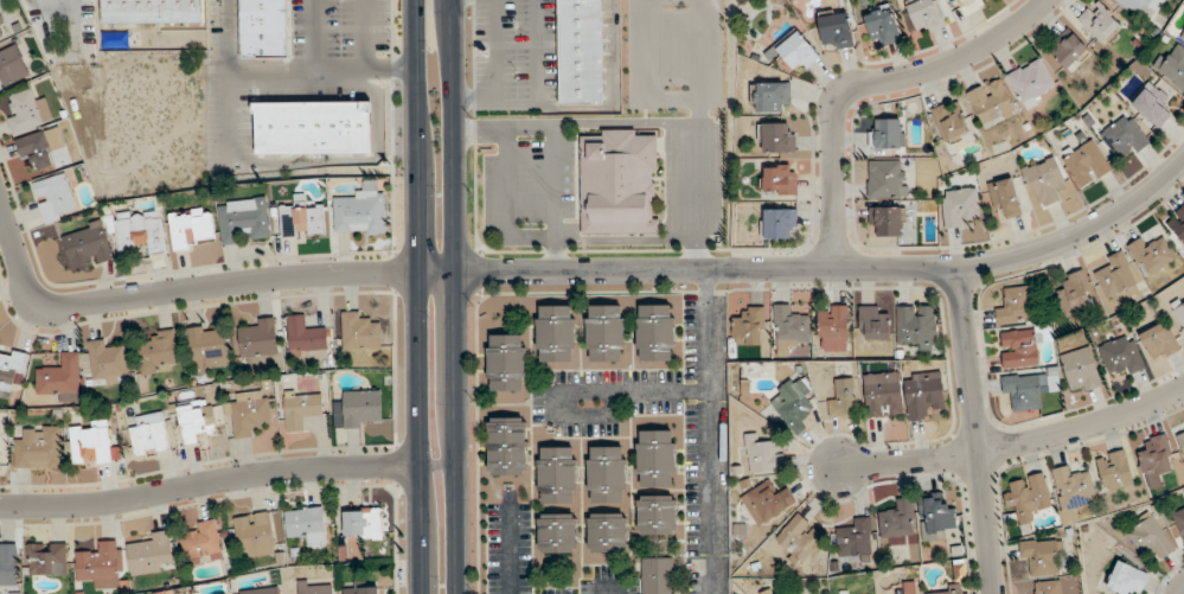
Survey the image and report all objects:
building: (1140, 4)
building: (971, 5)
building: (152, 12)
building: (924, 15)
building: (1099, 21)
building: (882, 27)
building: (2, 28)
building: (264, 28)
building: (836, 31)
building: (1182, 38)
building: (1065, 49)
building: (580, 51)
building: (795, 52)
building: (12, 65)
building: (1172, 65)
road: (328, 68)
building: (1030, 83)
road: (866, 84)
building: (770, 96)
building: (990, 103)
building: (1151, 106)
building: (25, 111)
building: (949, 122)
building: (312, 127)
building: (885, 133)
building: (1125, 136)
building: (777, 138)
building: (41, 148)
building: (1086, 164)
building: (779, 179)
building: (885, 179)
building: (1044, 181)
building: (619, 183)
building: (53, 198)
building: (1005, 198)
building: (959, 206)
building: (360, 211)
building: (244, 219)
building: (302, 221)
building: (885, 221)
building: (779, 223)
building: (1177, 225)
building: (192, 228)
building: (141, 231)
building: (87, 247)
building: (1150, 254)
road: (578, 270)
building: (1115, 275)
building: (1074, 294)
road: (416, 296)
road: (456, 296)
building: (1013, 306)
building: (1178, 314)
building: (872, 324)
building: (915, 325)
building: (748, 327)
building: (832, 328)
building: (789, 330)
building: (359, 331)
building: (654, 332)
building: (555, 333)
building: (604, 333)
building: (305, 336)
building: (256, 338)
building: (1158, 341)
building: (1022, 346)
building: (206, 349)
building: (159, 351)
building: (1120, 357)
building: (105, 362)
building: (506, 363)
building: (11, 370)
building: (1080, 370)
building: (60, 377)
building: (1023, 390)
road: (587, 392)
building: (883, 394)
building: (922, 394)
building: (841, 398)
building: (792, 401)
building: (301, 410)
building: (358, 410)
building: (248, 414)
building: (197, 421)
road: (708, 432)
road: (974, 432)
building: (148, 434)
building: (1179, 436)
building: (90, 441)
road: (1015, 443)
building: (505, 446)
building: (38, 448)
building: (761, 454)
building: (1156, 458)
building: (655, 459)
building: (1114, 471)
building: (556, 474)
building: (606, 474)
road: (207, 481)
building: (1071, 492)
building: (1026, 496)
building: (767, 502)
building: (655, 516)
building: (934, 517)
building: (897, 519)
building: (1179, 520)
building: (363, 523)
building: (306, 525)
building: (606, 532)
building: (557, 534)
building: (254, 535)
building: (1152, 536)
building: (855, 538)
building: (201, 544)
road: (508, 544)
building: (149, 554)
building: (1042, 557)
building: (46, 558)
building: (8, 564)
building: (102, 566)
building: (657, 575)
building: (1126, 579)
building: (314, 587)
building: (1049, 587)
building: (360, 588)
road: (609, 588)
building: (910, 588)
building: (951, 589)
building: (261, 590)
building: (777, 592)

